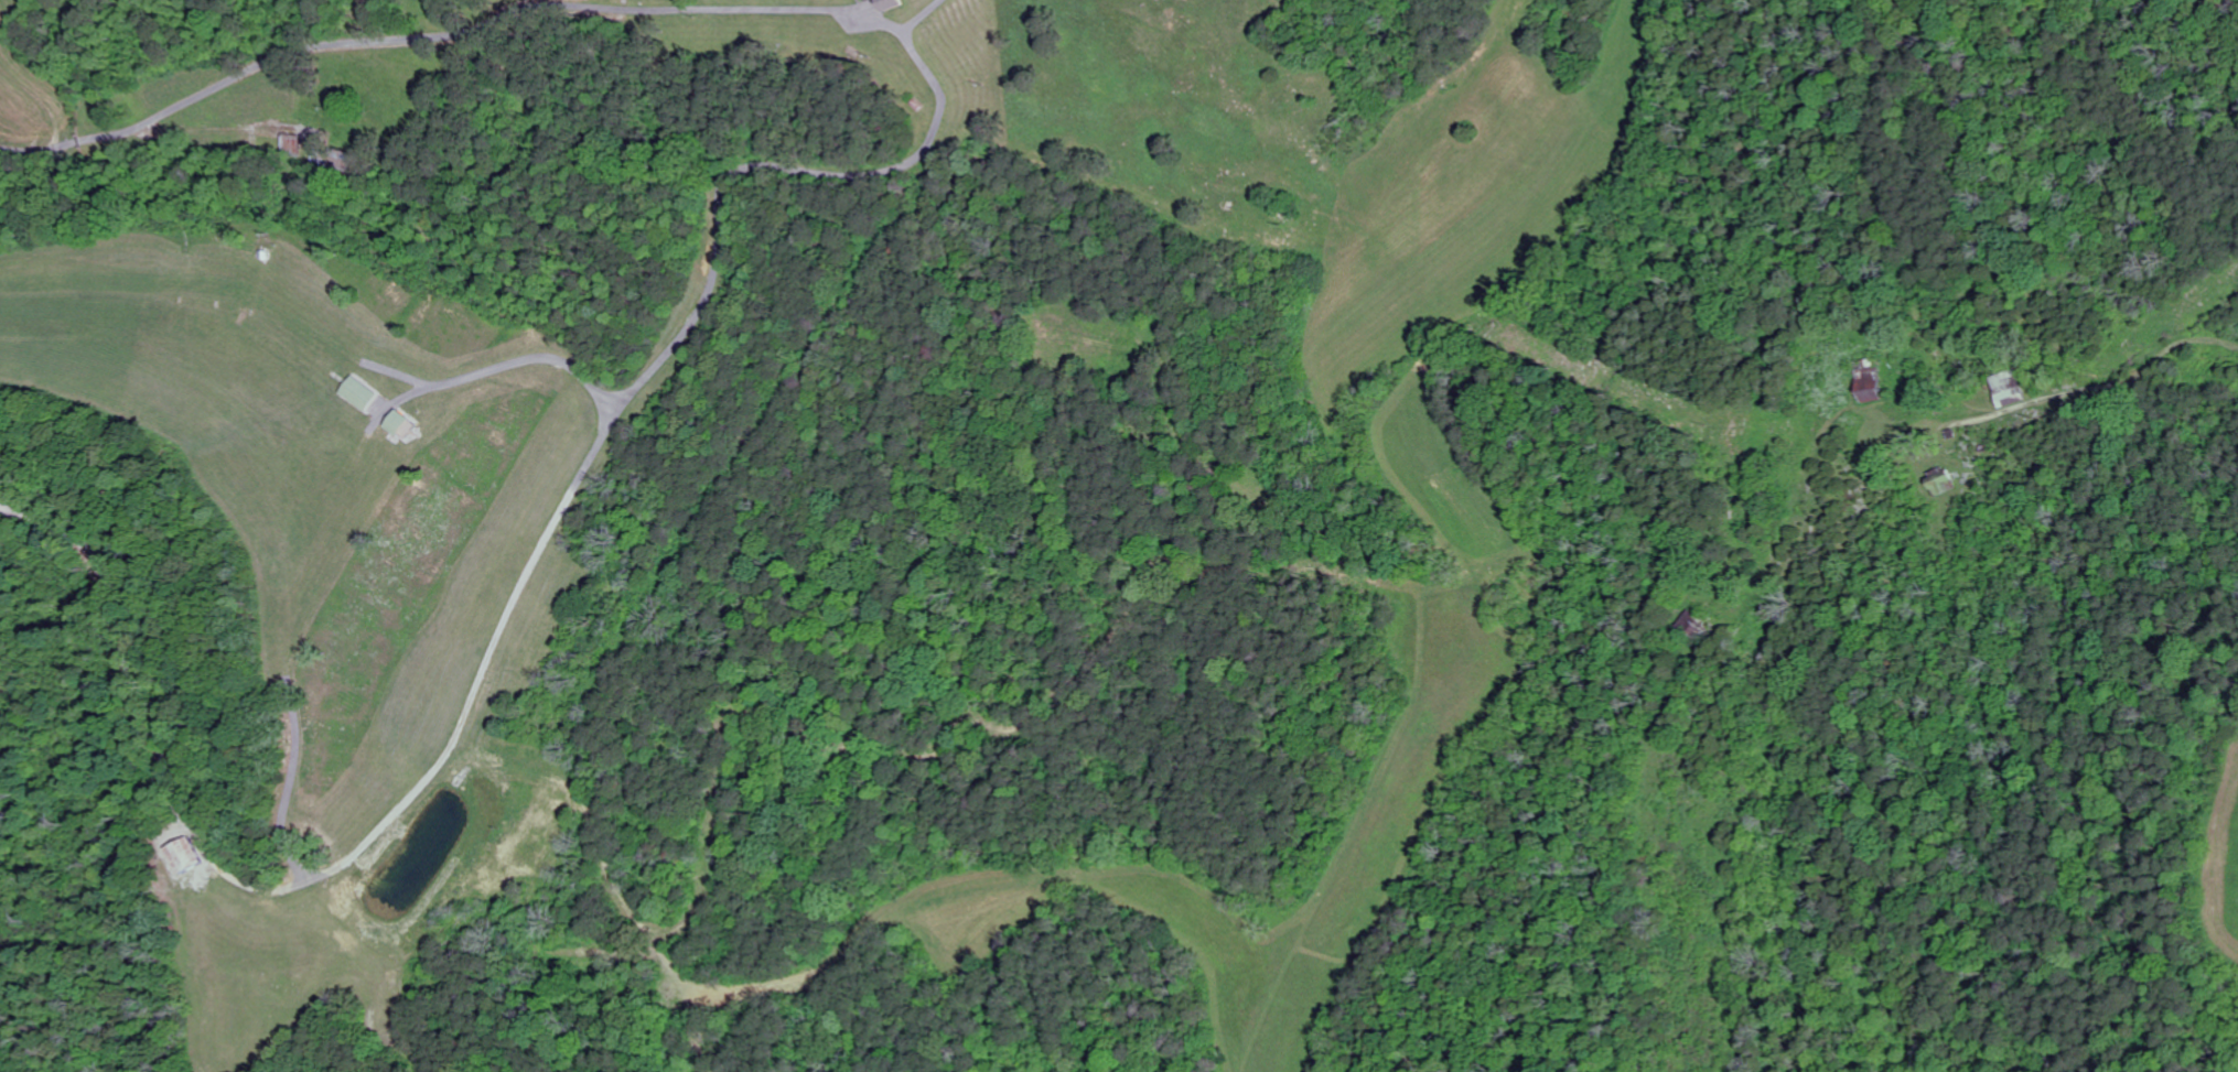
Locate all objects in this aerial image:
building: (890, 3)
building: (1874, 381)
building: (2011, 389)
building: (361, 393)
building: (1945, 480)
road: (120, 625)
building: (190, 856)

